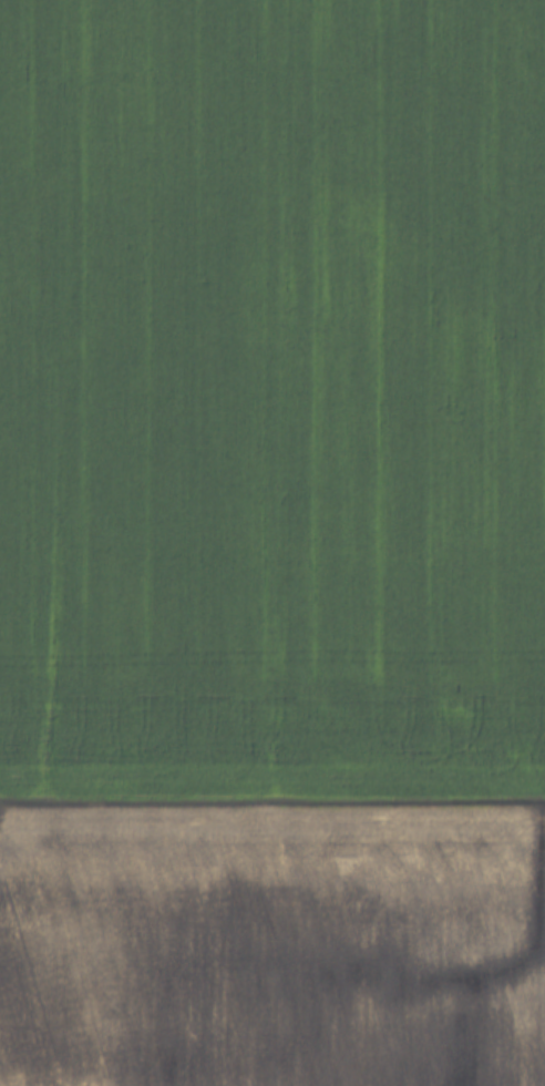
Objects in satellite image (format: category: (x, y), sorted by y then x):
crop: (271, 393)
crop: (272, 945)

